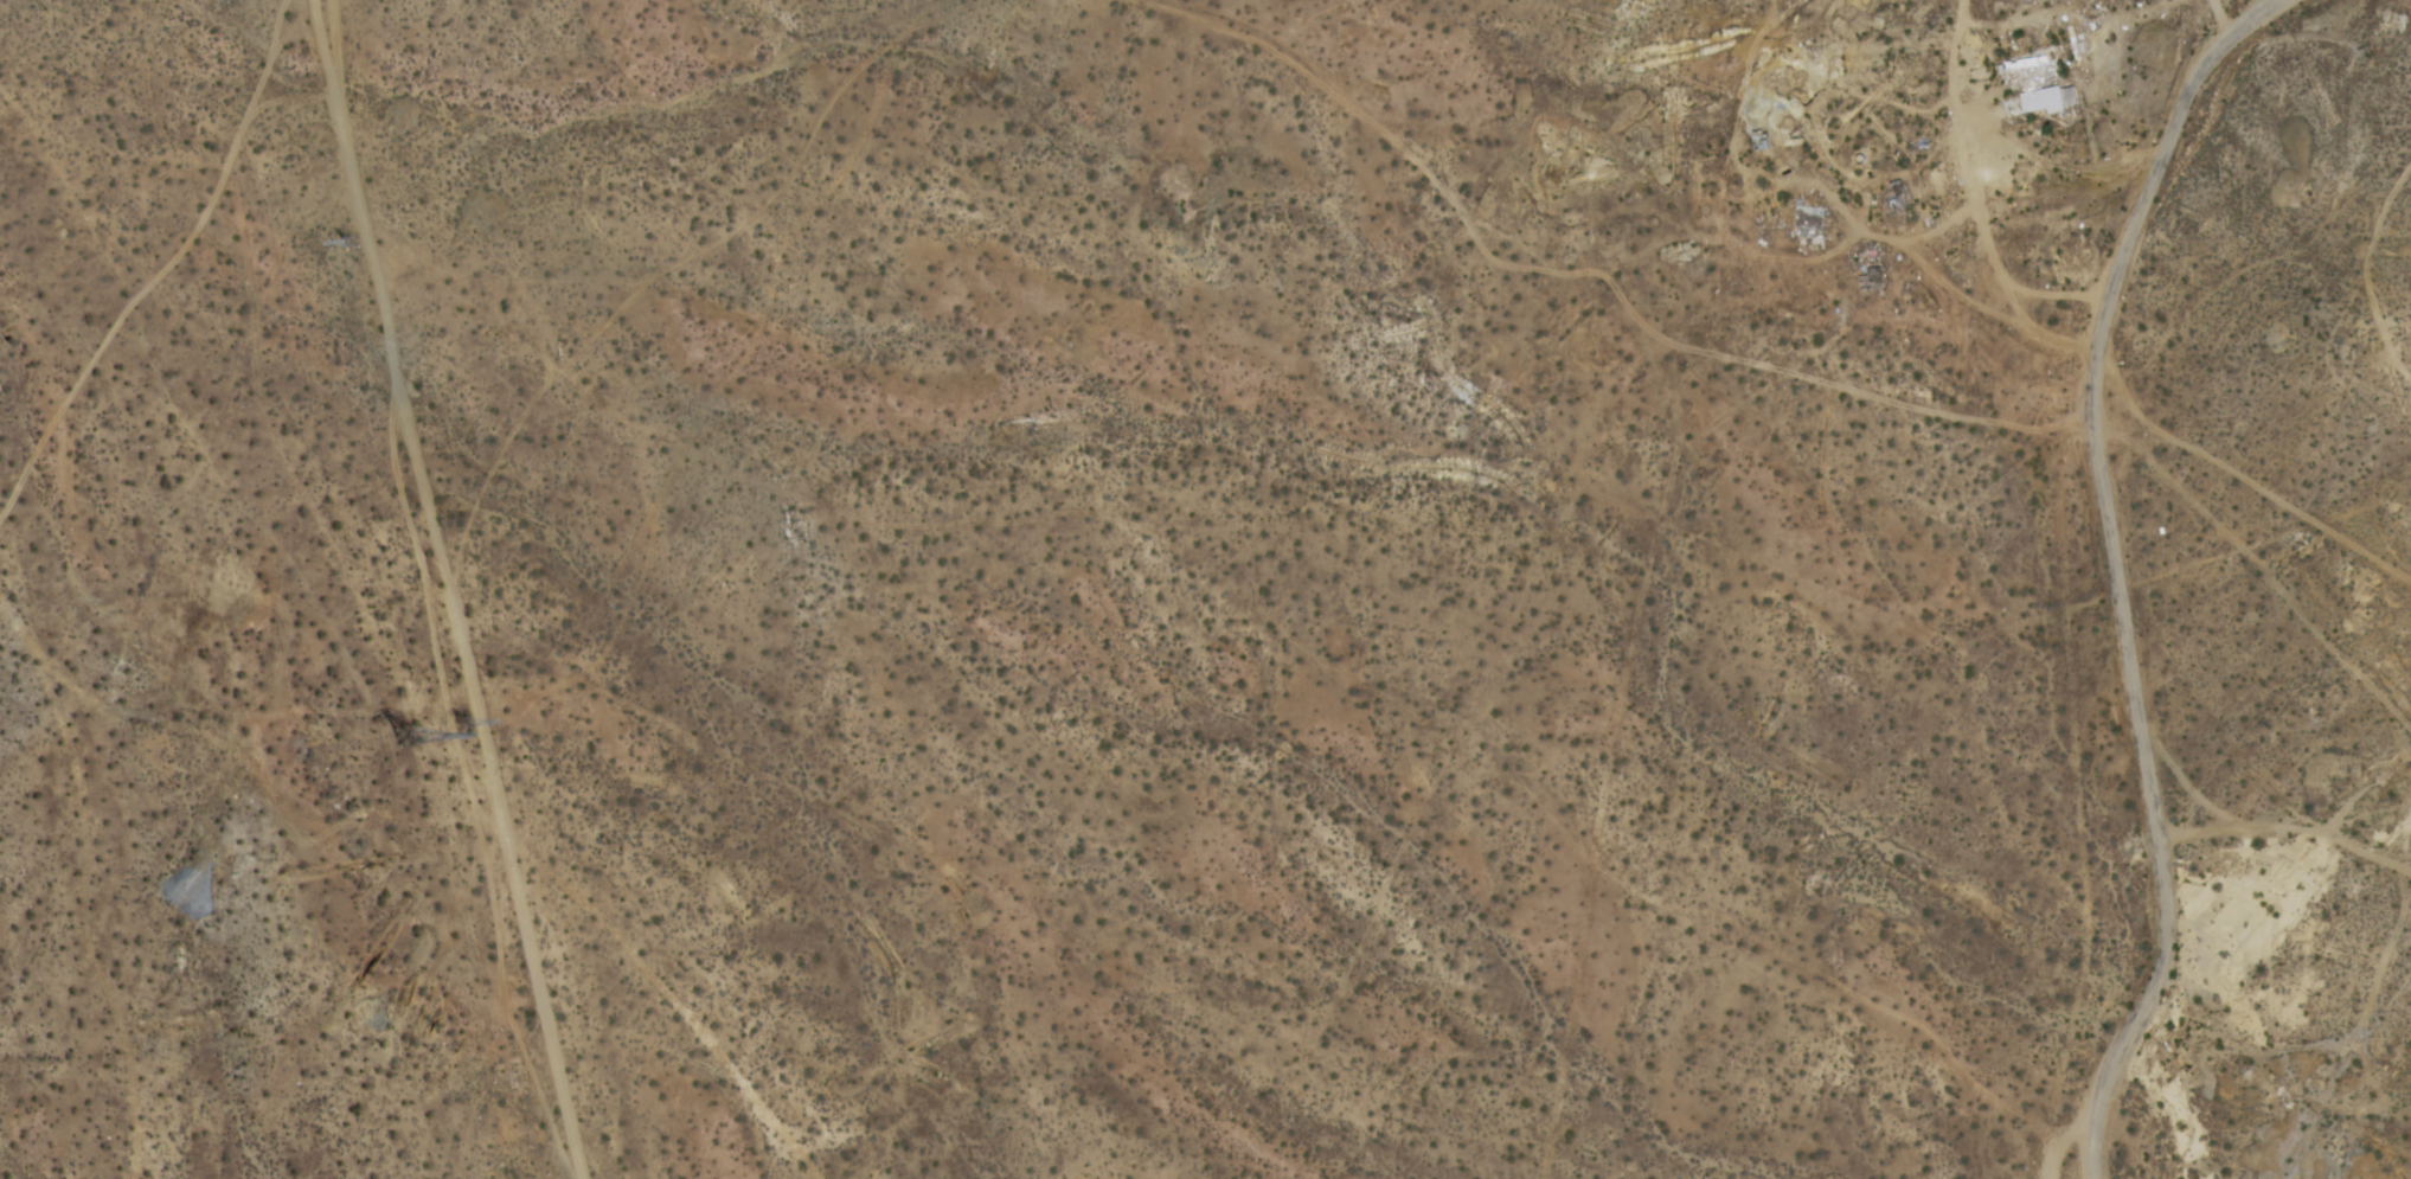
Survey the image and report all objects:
road: (2220, 17)
road: (322, 57)
building: (2028, 86)
building: (1809, 223)
power tower: (357, 251)
road: (165, 268)
road: (2115, 569)
road: (448, 590)
crop: (2201, 604)
power tower: (464, 729)
power tower: (421, 742)

